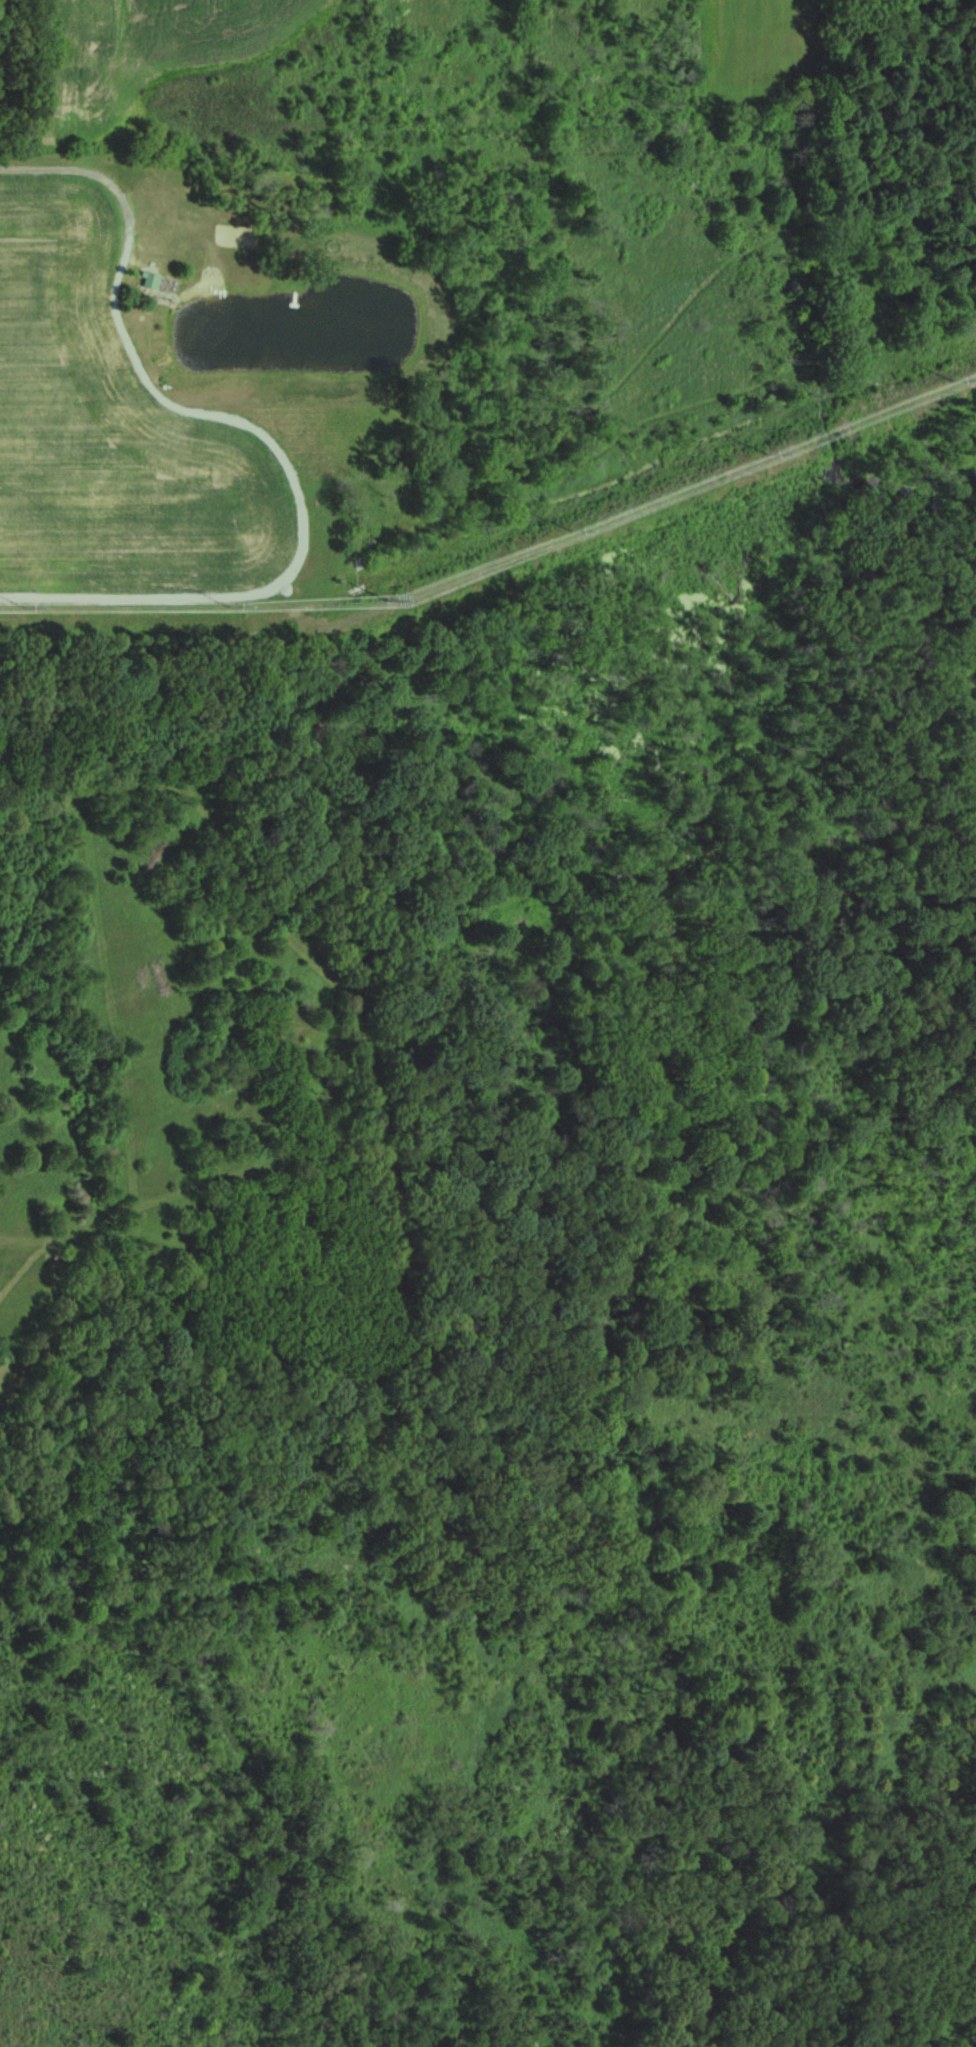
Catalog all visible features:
building: (144, 279)

